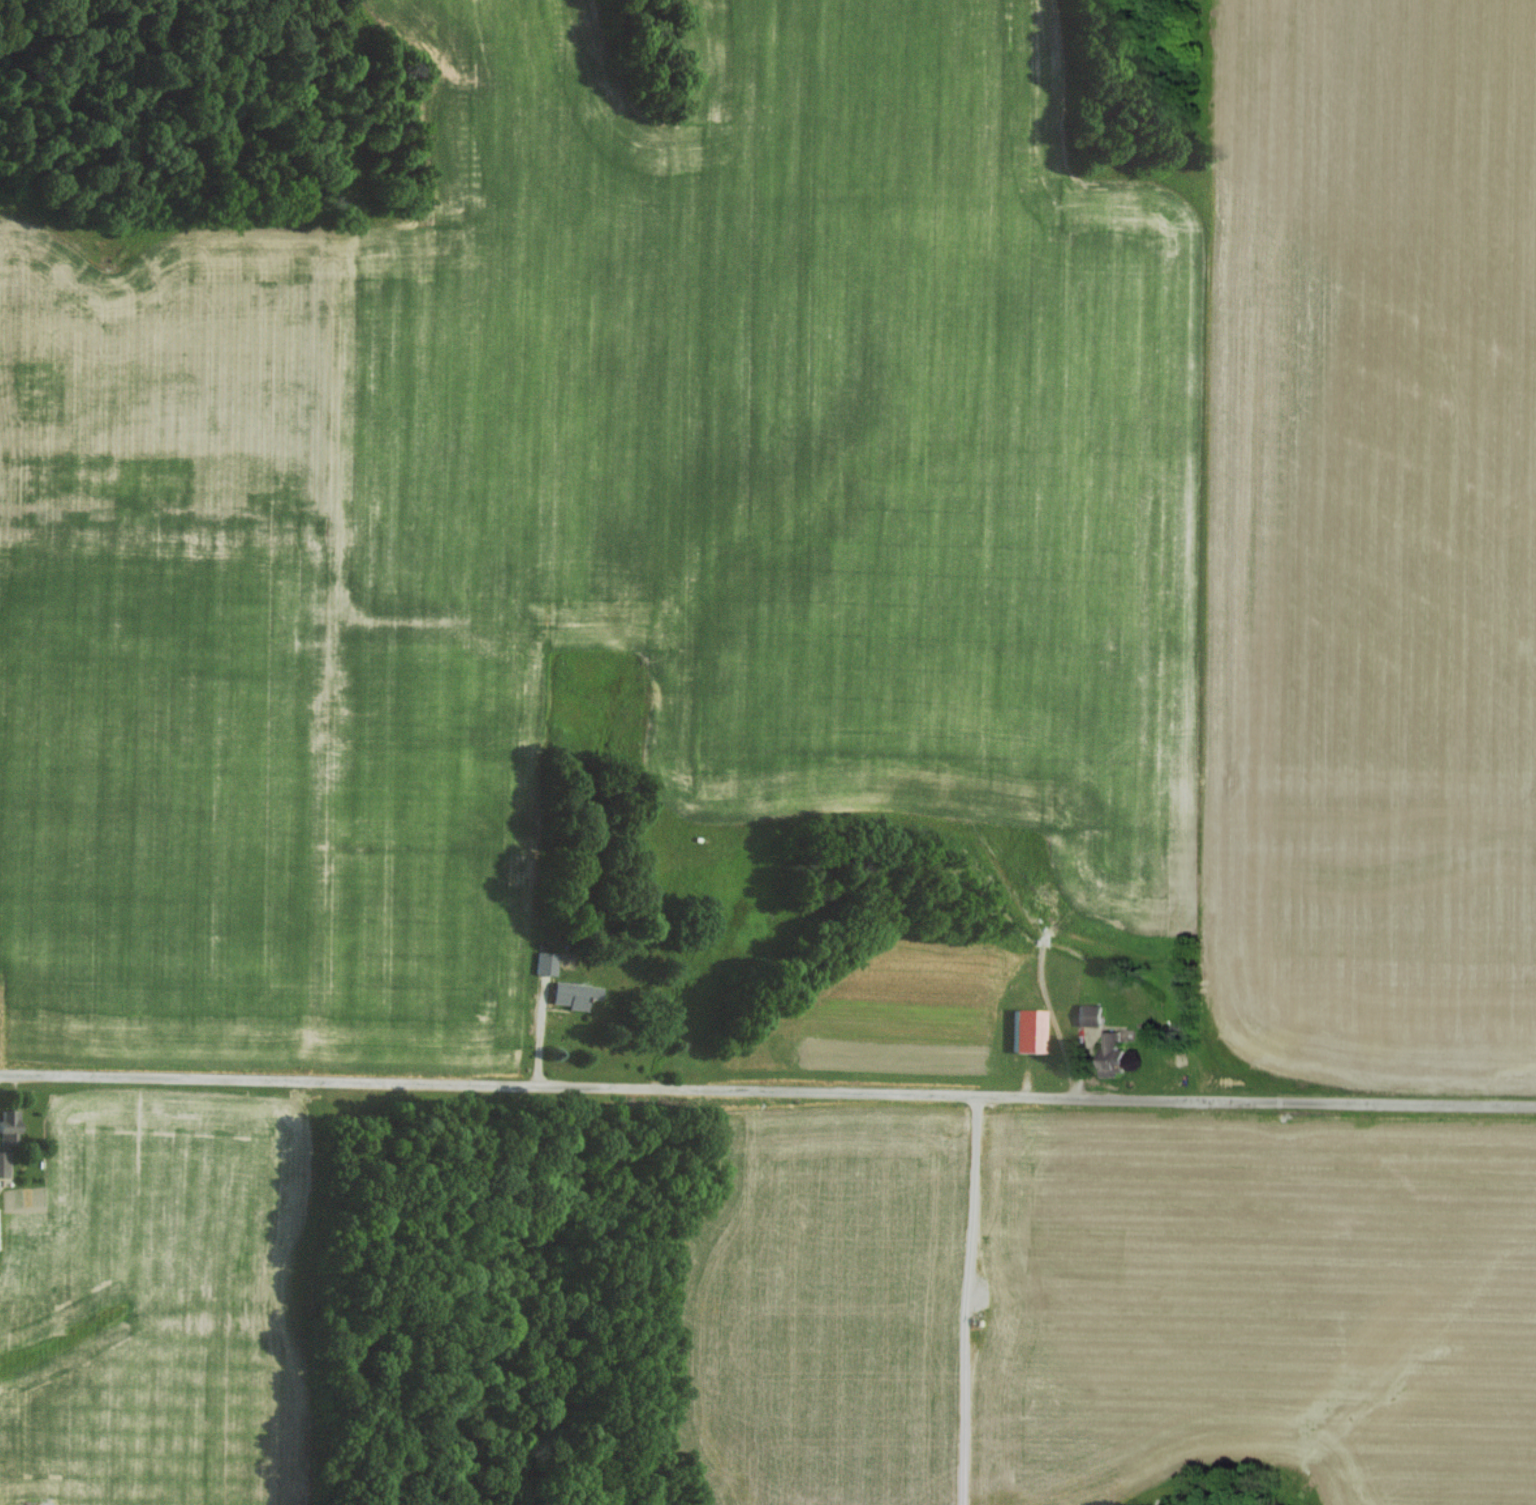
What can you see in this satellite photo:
road: (36, 222)
building: (547, 961)
building: (575, 992)
building: (1093, 1015)
road: (767, 1094)
road: (966, 1301)

